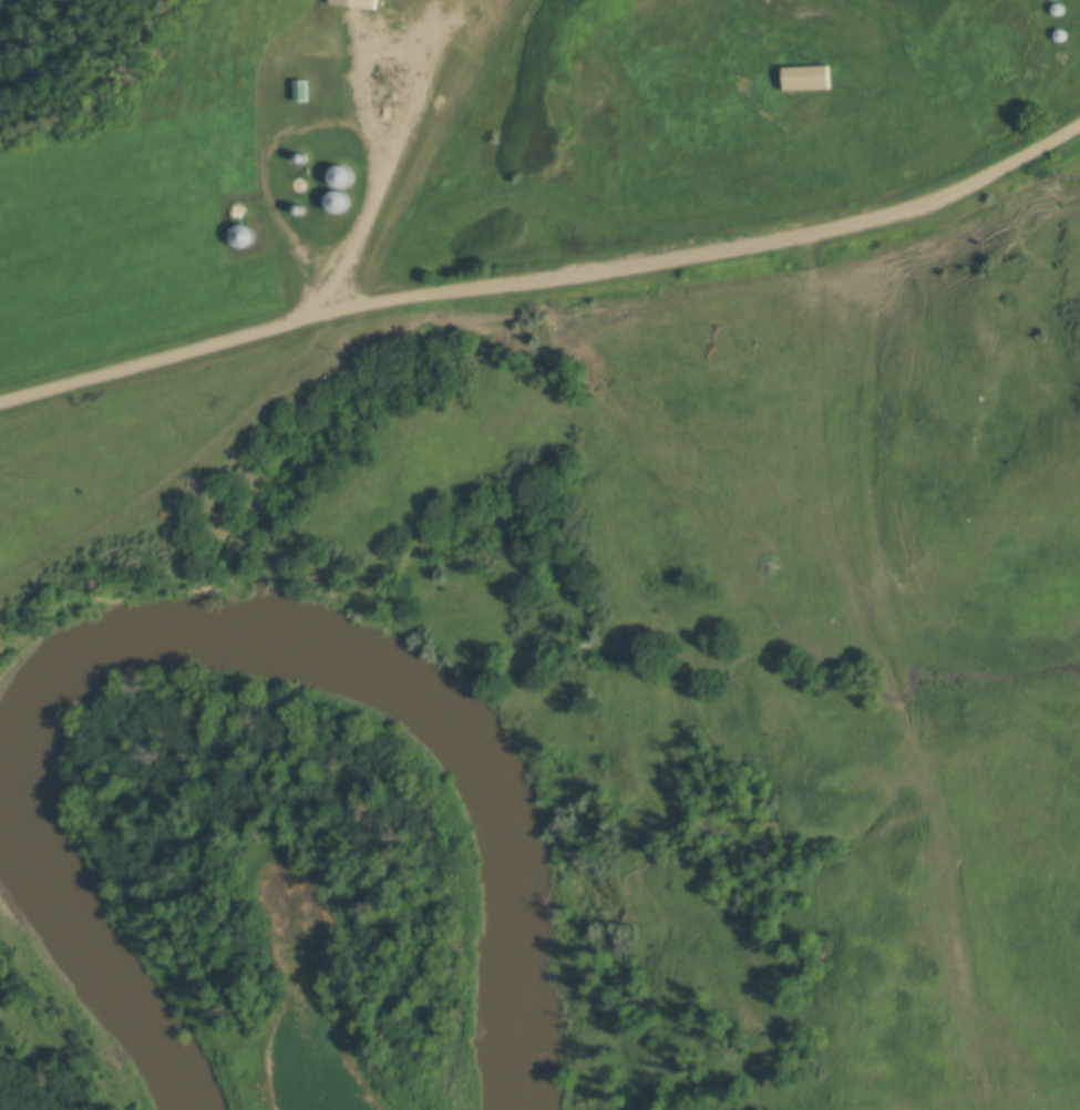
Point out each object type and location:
building: (358, 2)
building: (1056, 9)
silo: (1056, 9)
building: (471, 19)
building: (1059, 34)
silo: (1059, 34)
road: (319, 51)
building: (803, 76)
building: (304, 91)
storage tank: (441, 104)
building: (290, 158)
silo: (290, 158)
building: (304, 158)
silo: (304, 158)
building: (340, 176)
silo: (340, 176)
building: (339, 202)
silo: (339, 202)
building: (237, 209)
silo: (237, 209)
building: (300, 210)
silo: (300, 210)
building: (243, 235)
silo: (243, 235)
road: (545, 286)
river: (219, 649)

